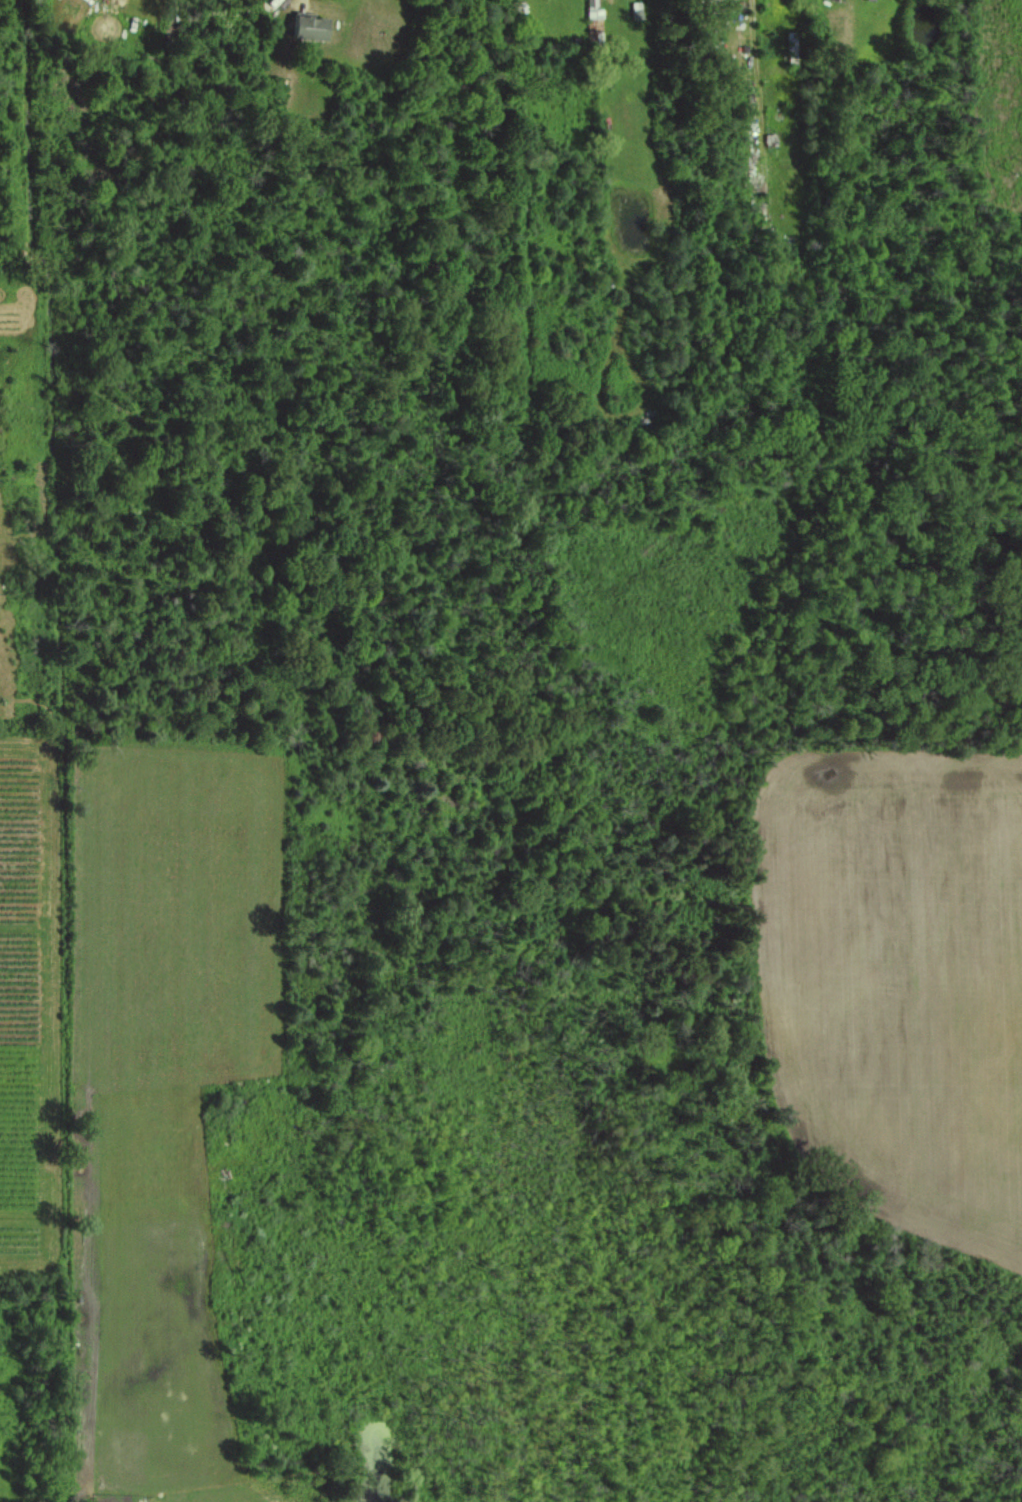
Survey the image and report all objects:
building: (593, 10)
building: (309, 26)
building: (791, 43)

